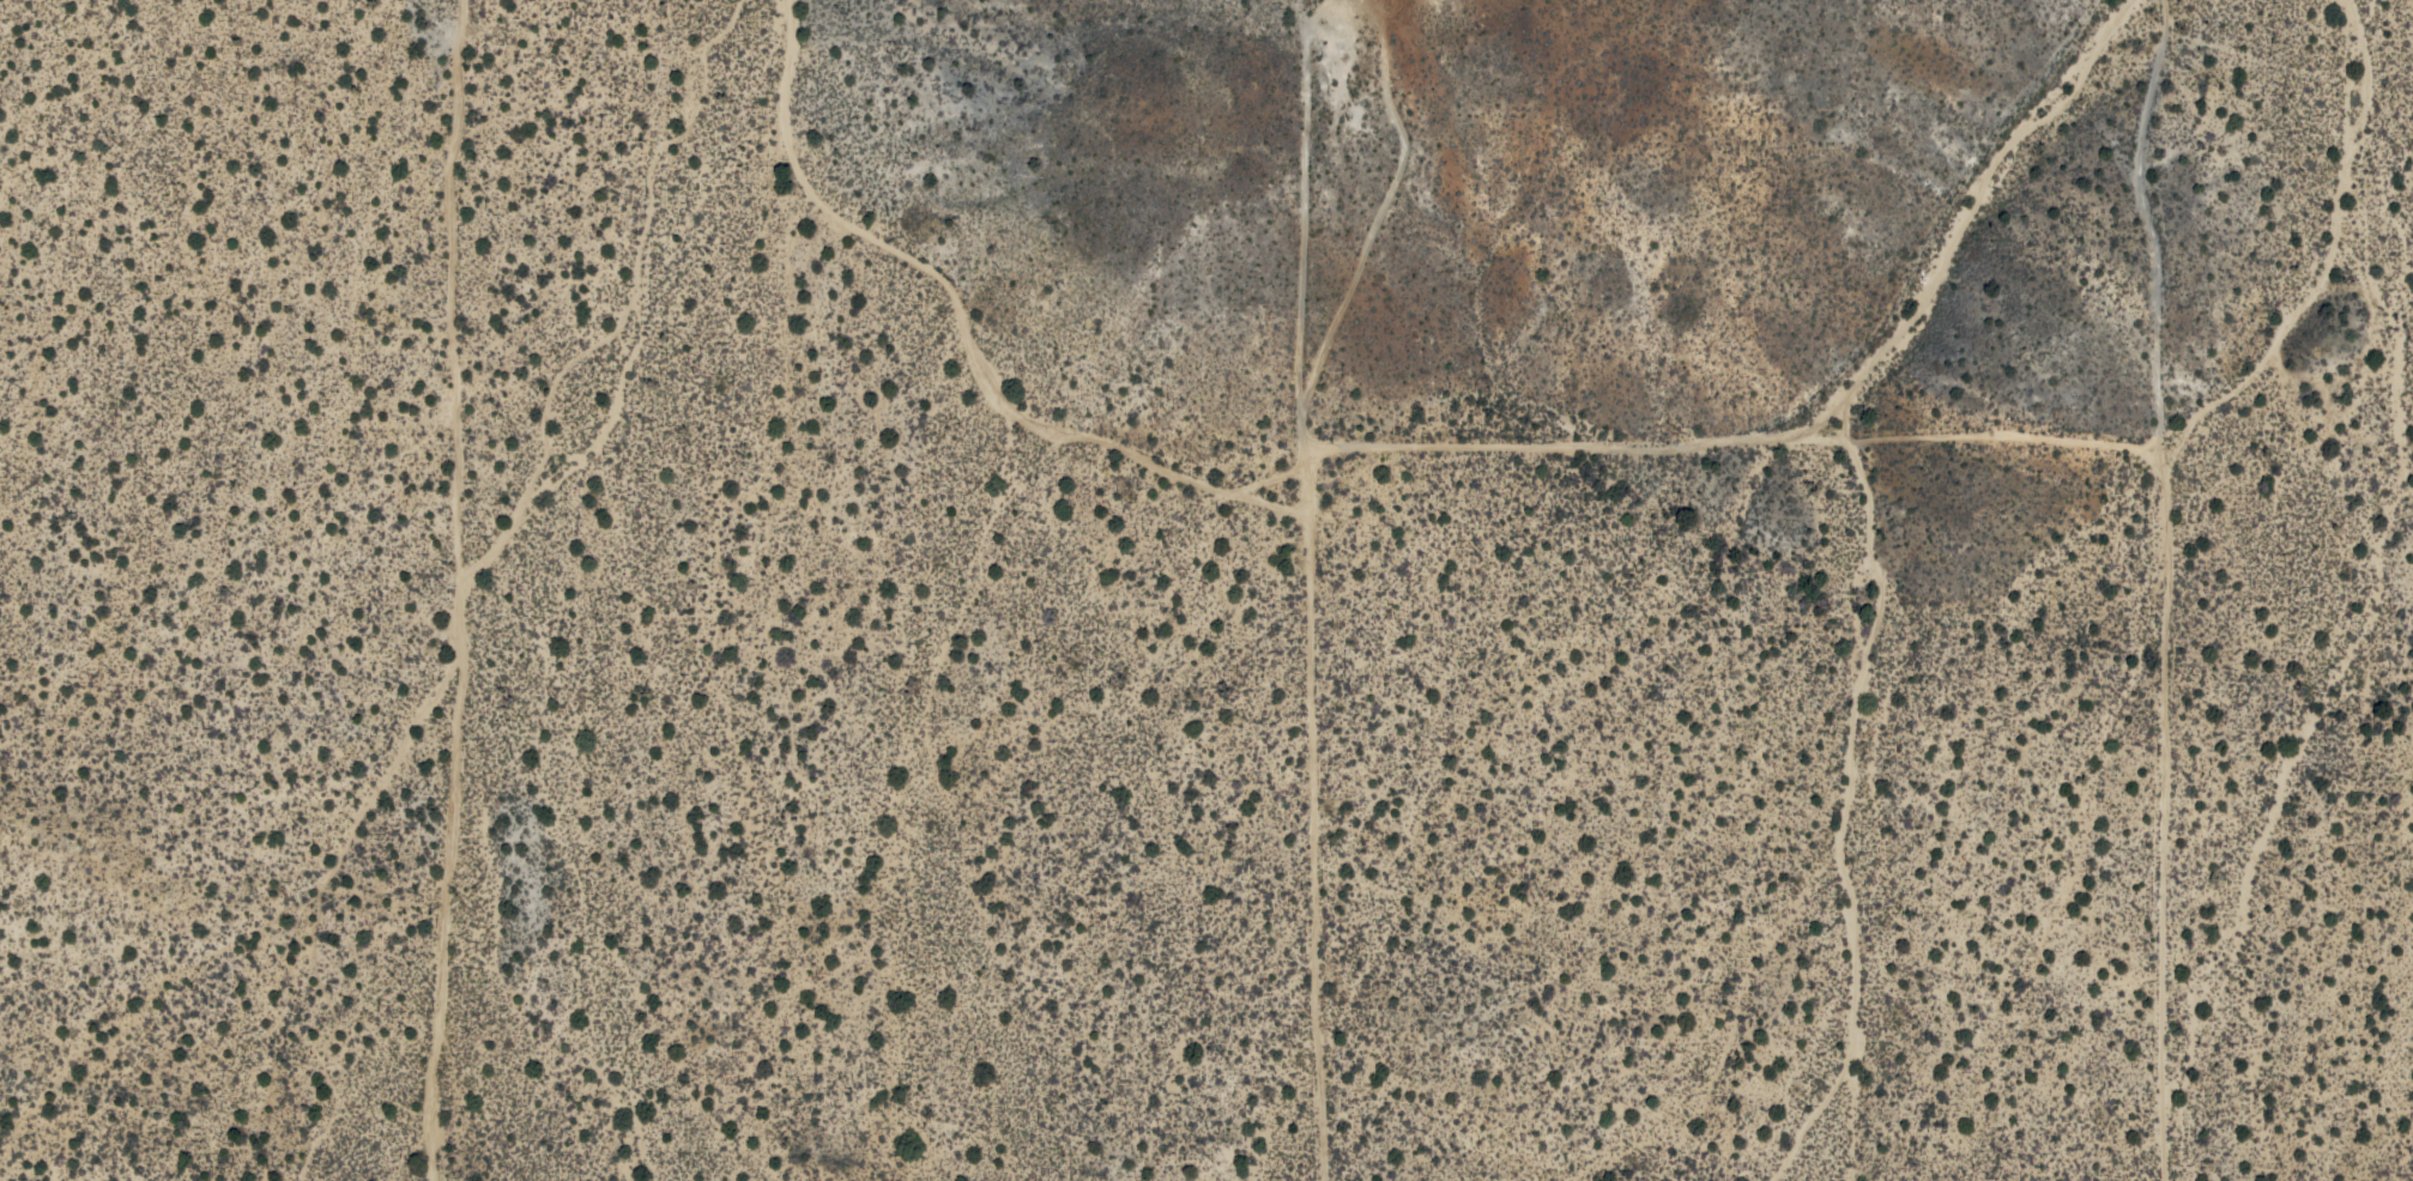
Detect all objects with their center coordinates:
road: (2163, 590)

